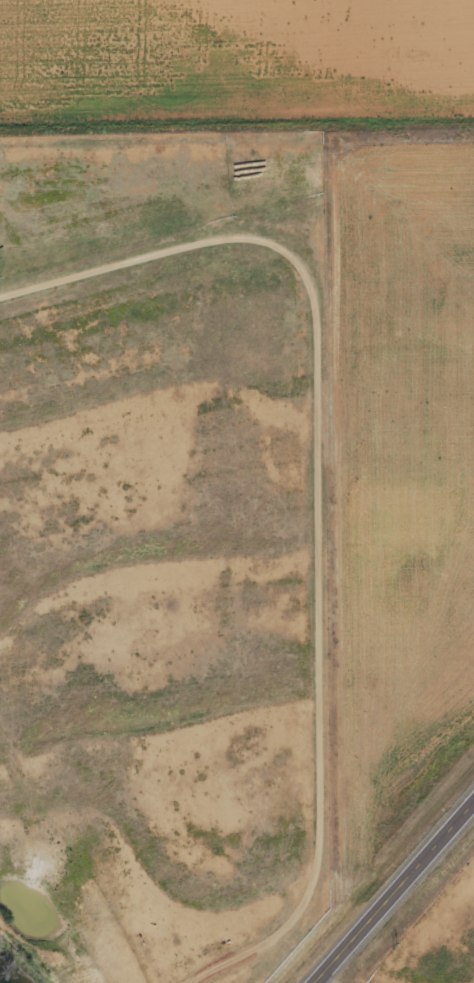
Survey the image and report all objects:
road: (393, 893)
road: (57, 908)

